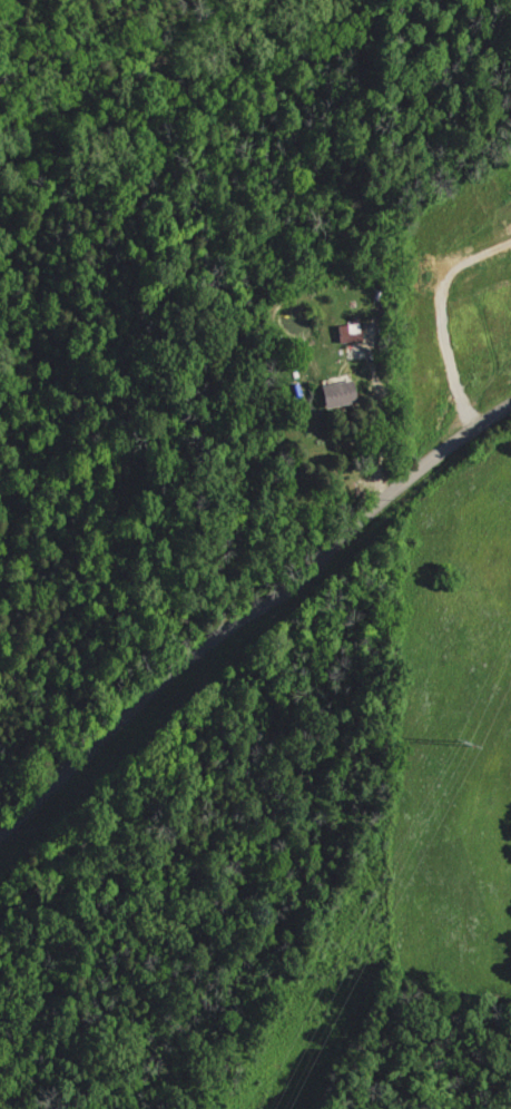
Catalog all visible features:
building: (346, 330)
building: (333, 393)
road: (248, 606)

